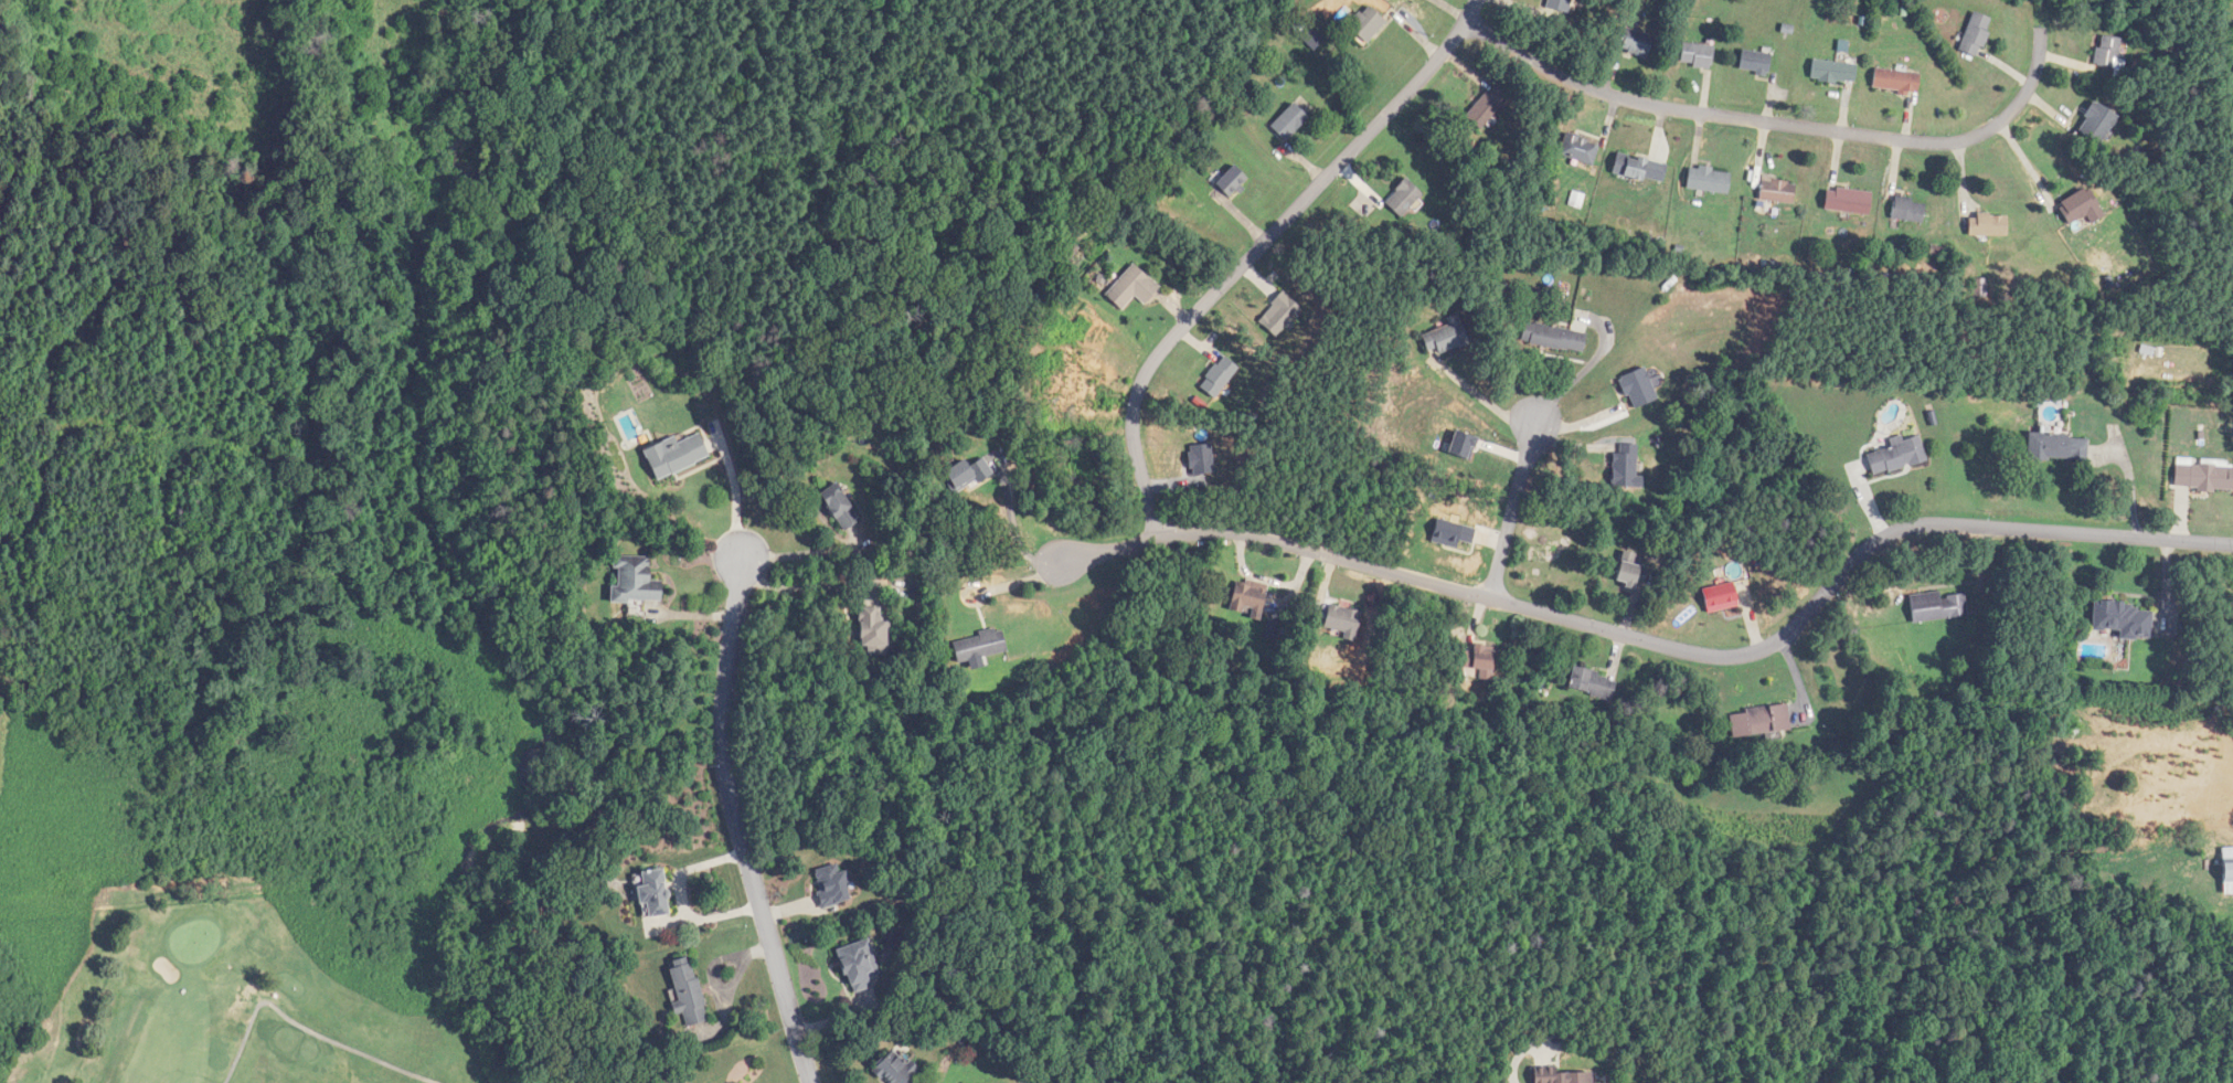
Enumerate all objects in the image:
building: (1562, 6)
building: (1367, 23)
building: (1973, 34)
building: (1637, 42)
building: (2106, 52)
building: (1698, 55)
building: (1754, 62)
building: (1831, 72)
road: (2035, 73)
building: (1893, 82)
road: (1743, 116)
building: (1290, 121)
building: (2095, 124)
building: (1581, 149)
building: (1640, 168)
building: (1710, 180)
building: (1233, 181)
building: (1775, 191)
building: (1405, 198)
building: (1846, 201)
building: (2078, 206)
building: (1906, 210)
building: (1986, 225)
road: (1256, 248)
building: (1133, 287)
building: (1445, 337)
building: (1555, 337)
road: (1586, 369)
building: (1640, 387)
road: (1482, 400)
building: (2055, 447)
building: (678, 455)
building: (1895, 455)
building: (1628, 465)
building: (969, 476)
building: (2210, 479)
road: (735, 492)
building: (842, 508)
road: (1511, 509)
building: (1633, 573)
building: (637, 581)
road: (796, 585)
building: (1716, 597)
building: (1250, 601)
building: (1935, 606)
building: (2120, 620)
building: (1344, 622)
building: (876, 631)
road: (1663, 645)
building: (981, 646)
building: (1481, 662)
building: (1592, 682)
building: (1756, 722)
road: (737, 825)
road: (689, 868)
building: (2225, 869)
building: (833, 885)
building: (657, 893)
road: (706, 916)
building: (861, 964)
building: (689, 995)
building: (900, 1069)
building: (1564, 1076)

